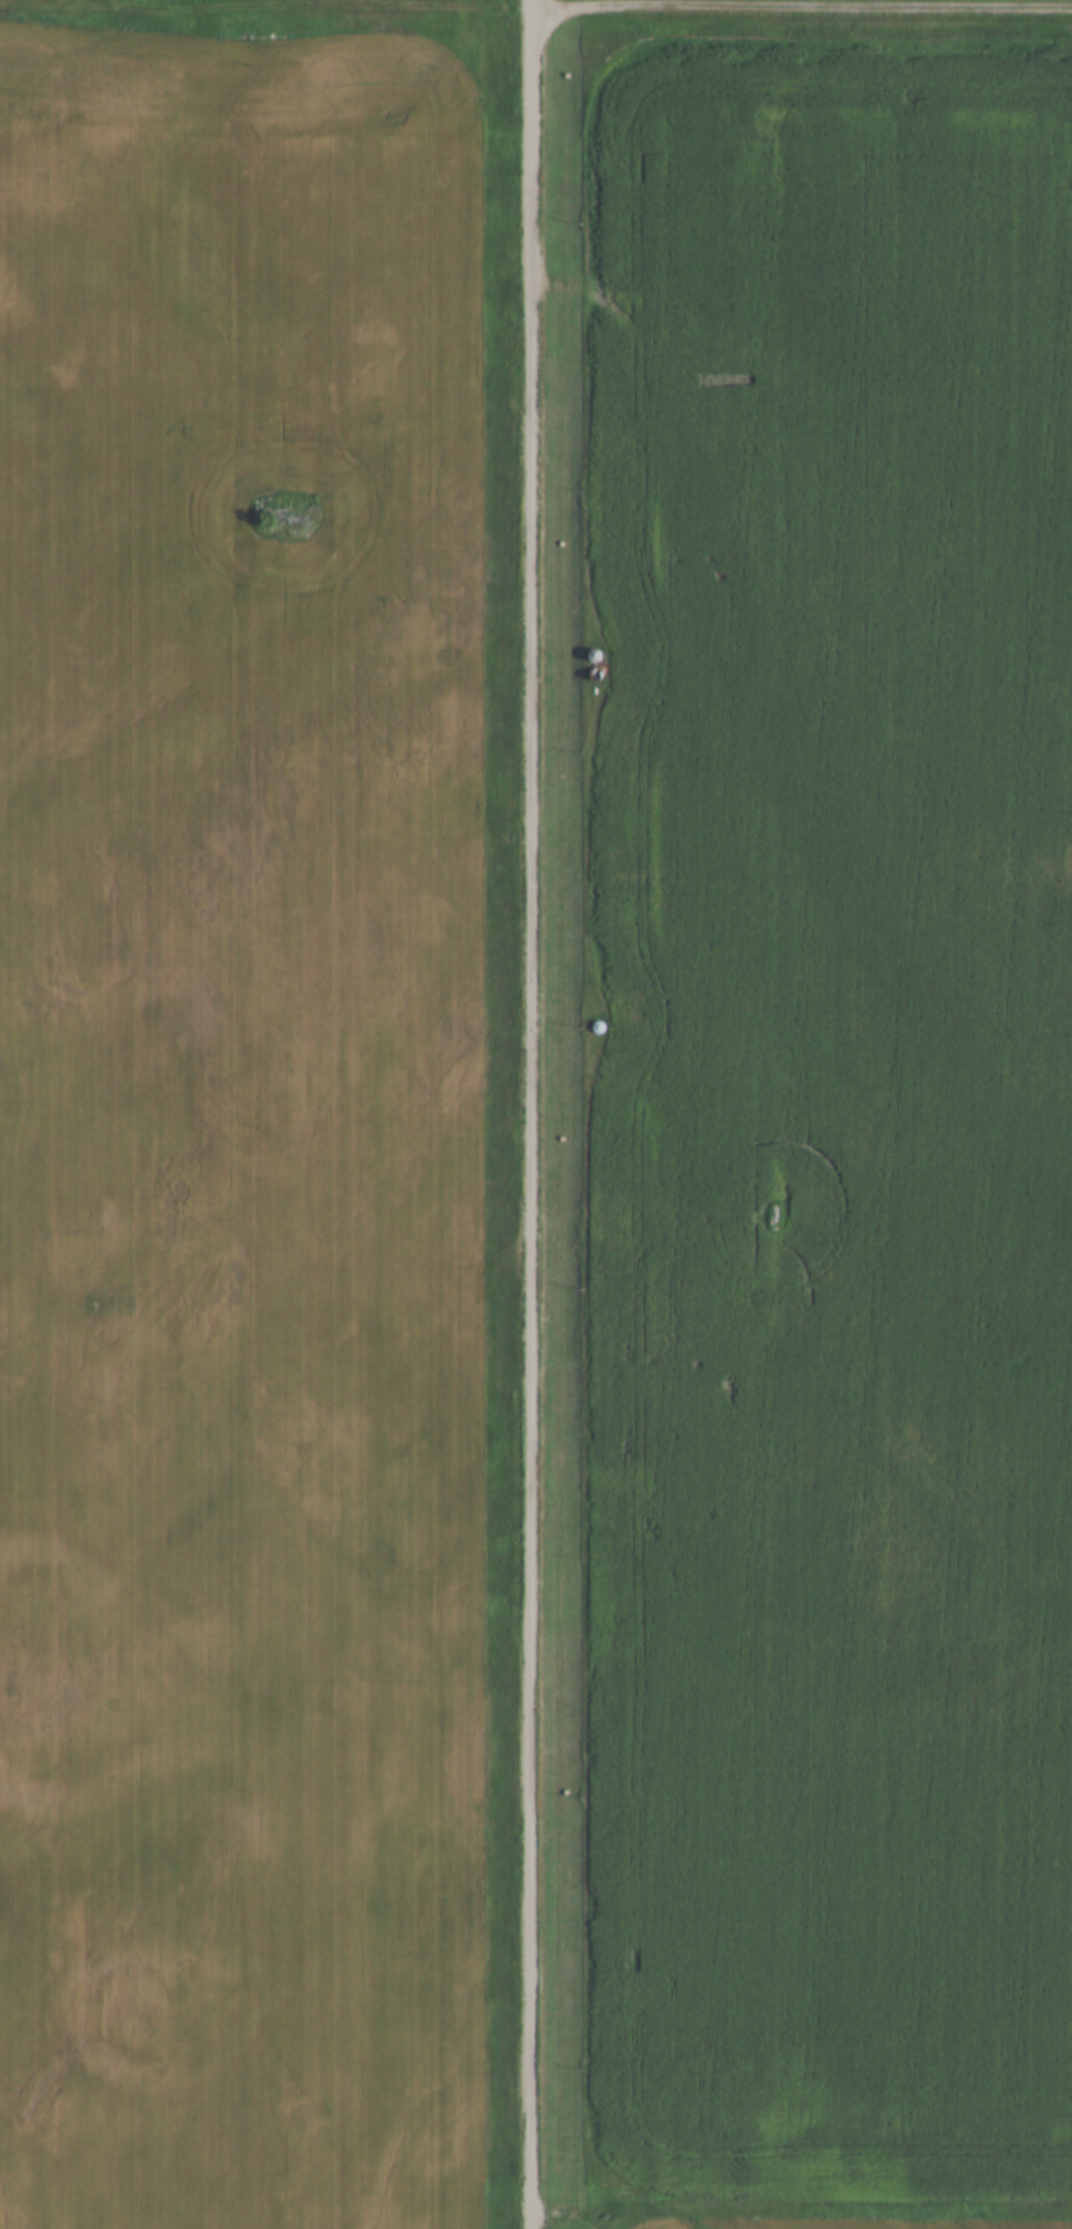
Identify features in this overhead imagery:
road: (580, 8)
road: (534, 1114)

